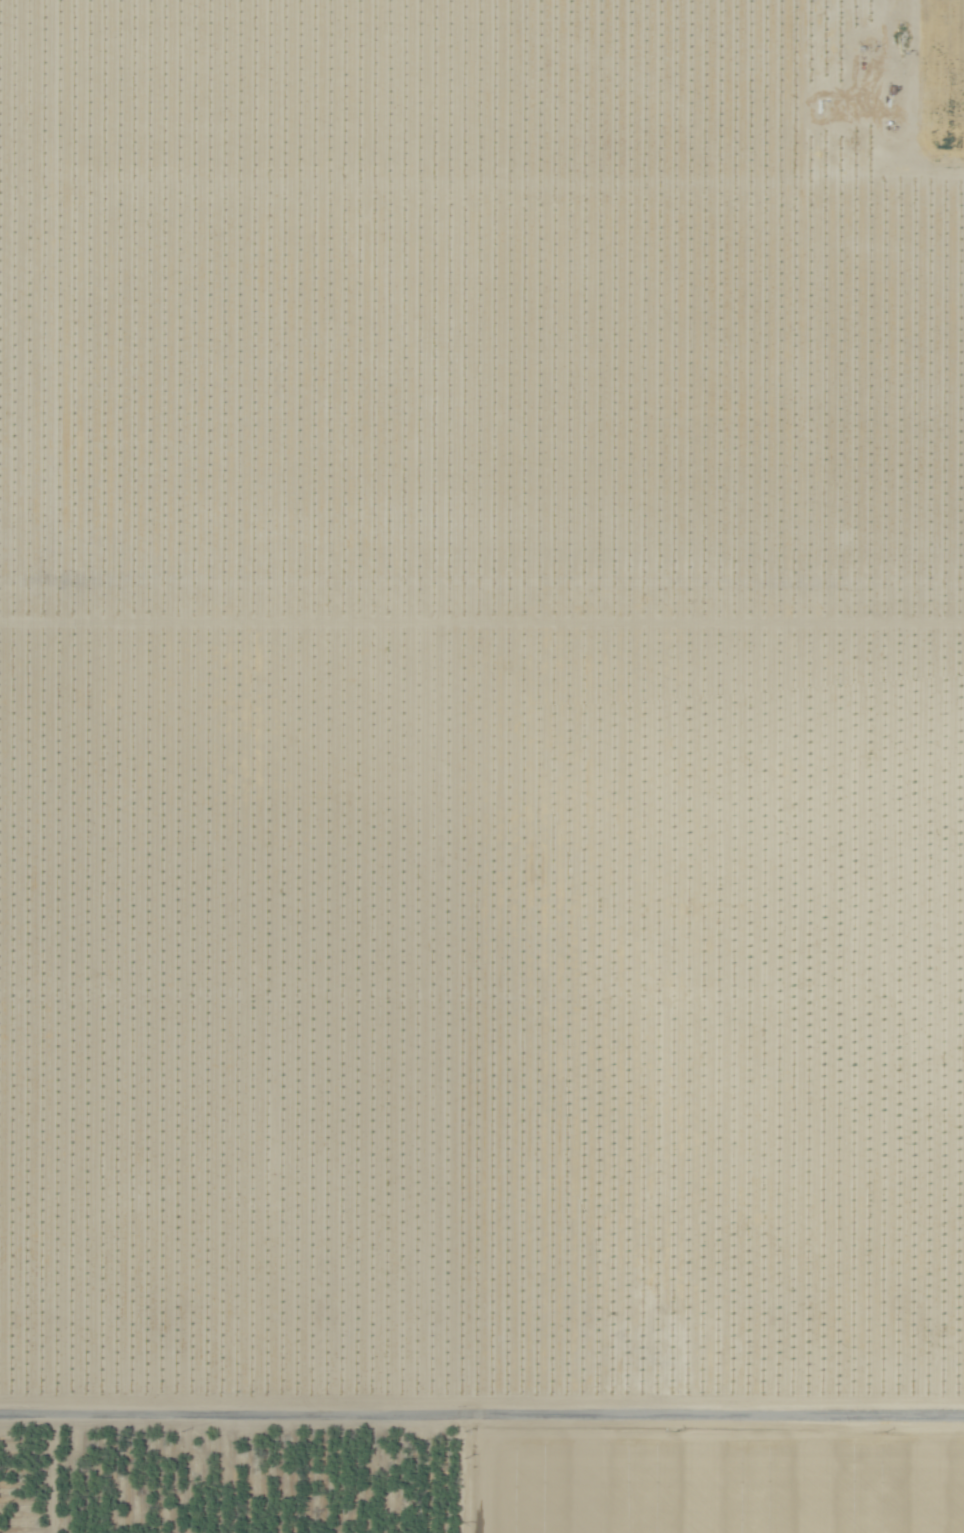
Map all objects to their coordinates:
road: (482, 1415)
crop: (482, 1483)

